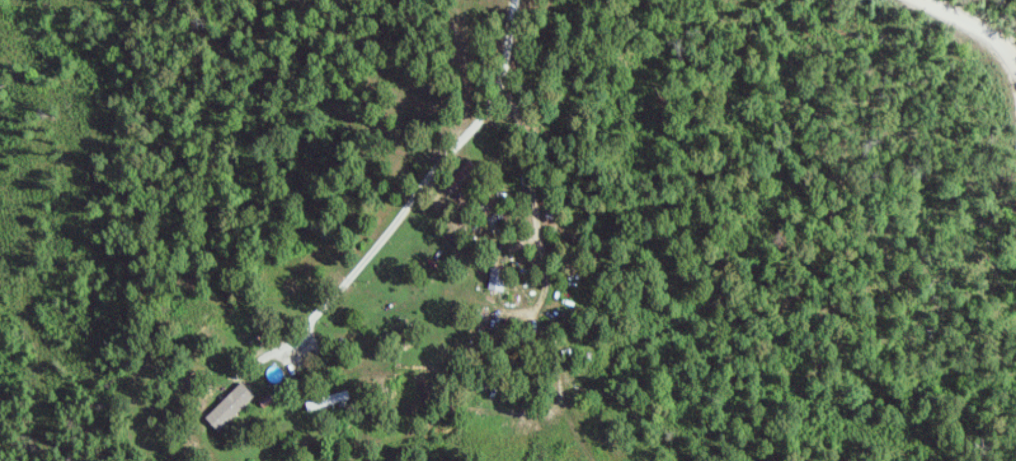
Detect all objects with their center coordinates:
road: (974, 25)
road: (411, 193)
building: (496, 275)
building: (232, 407)

